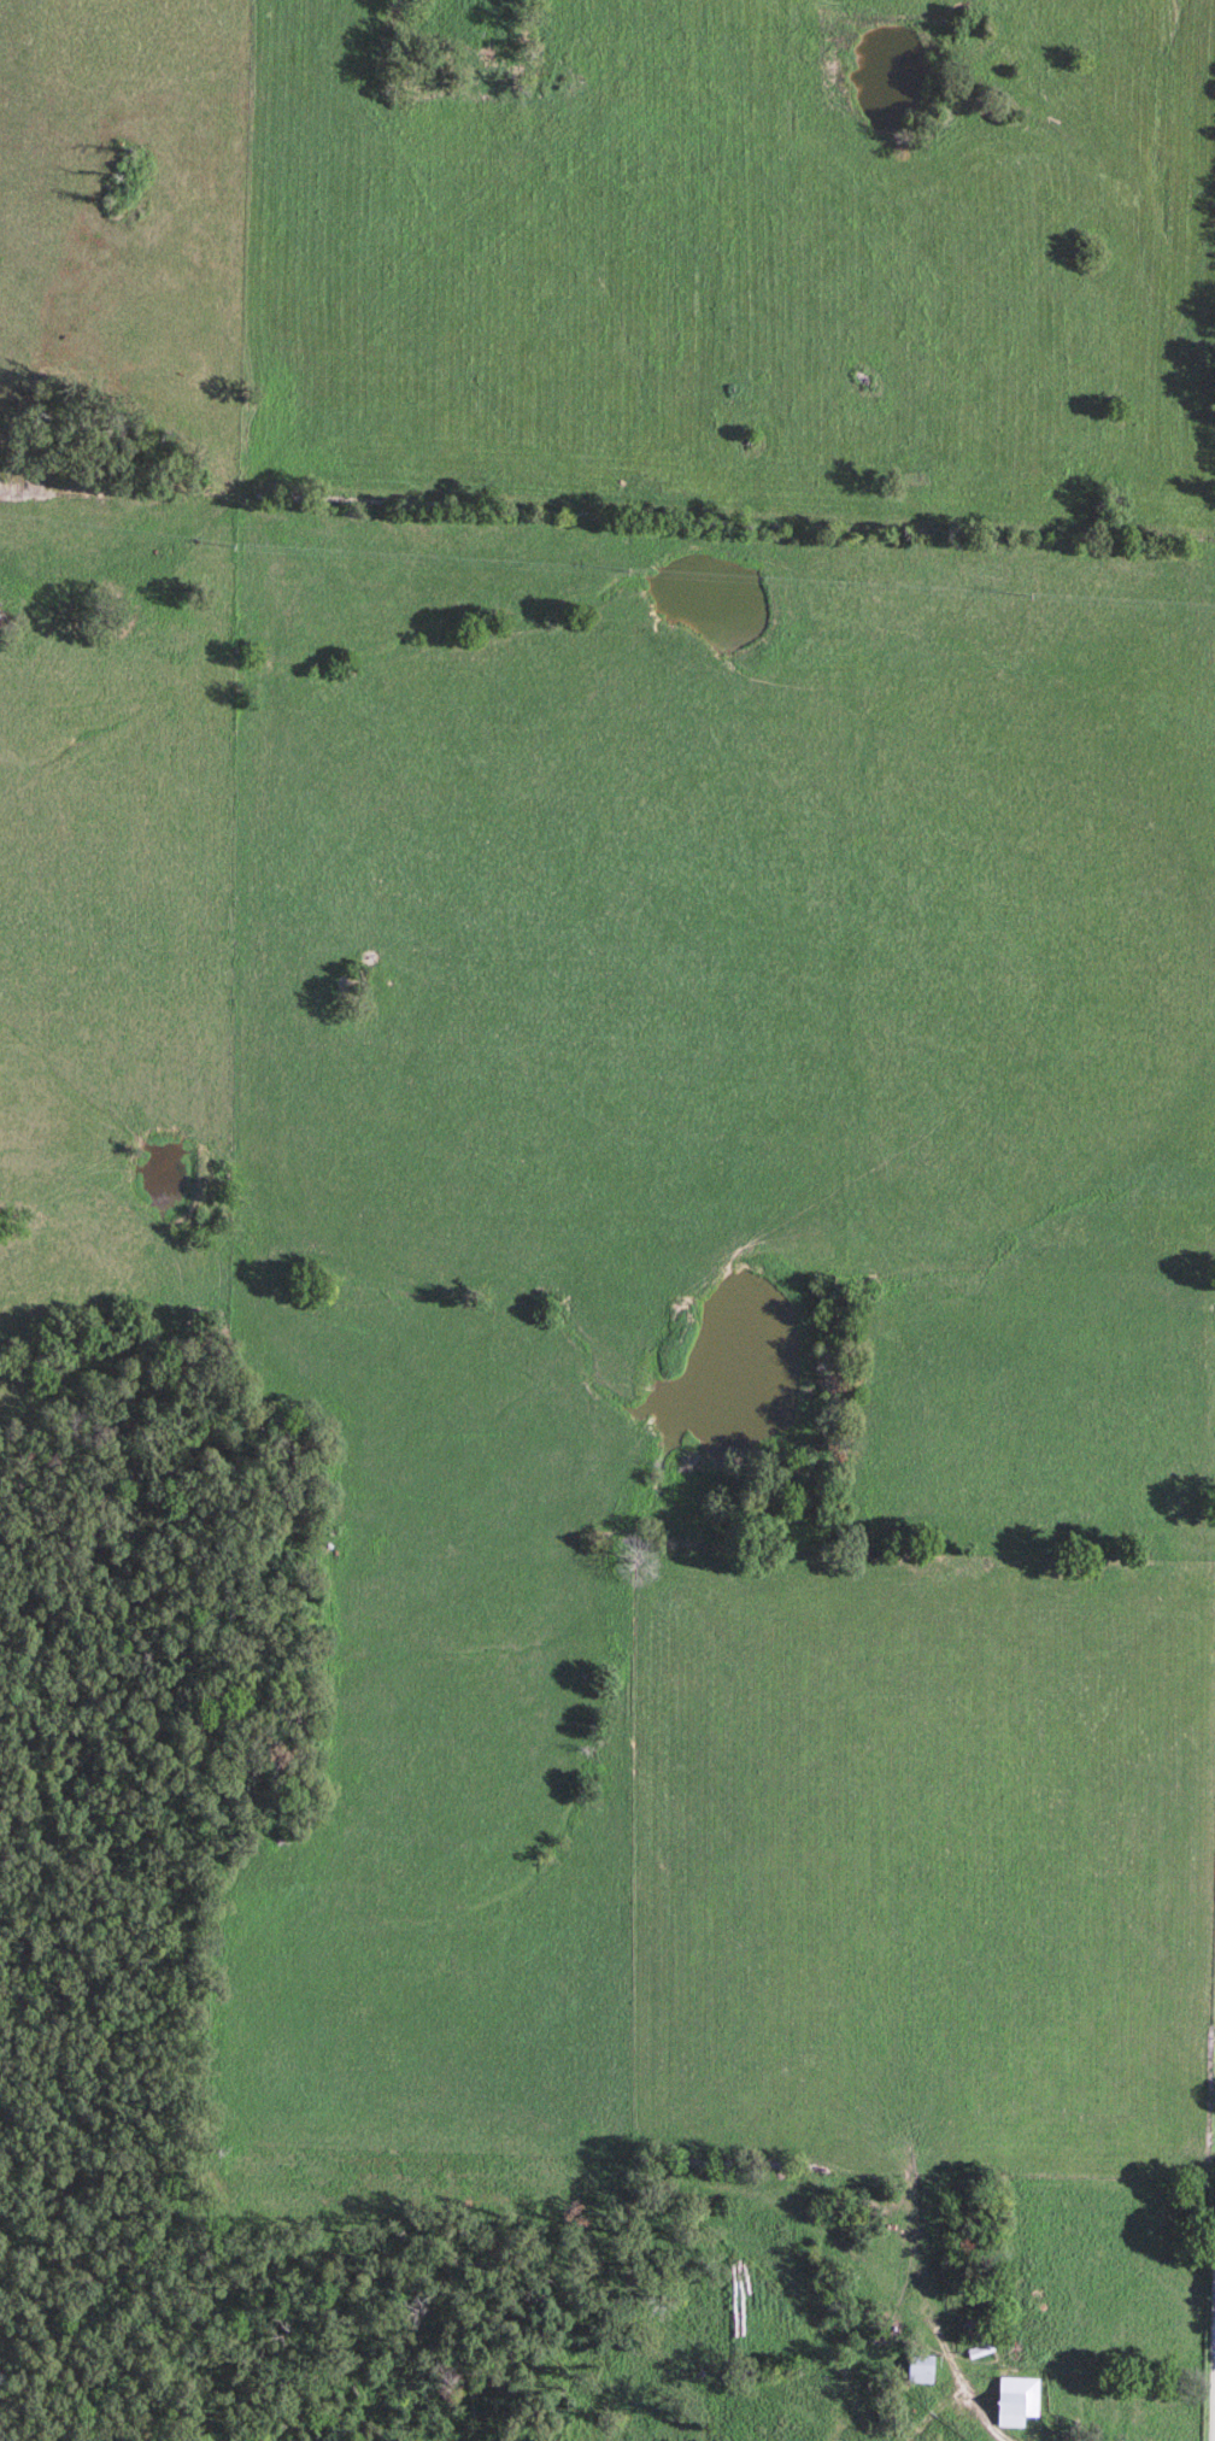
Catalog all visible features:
building: (923, 2367)
building: (1020, 2400)

